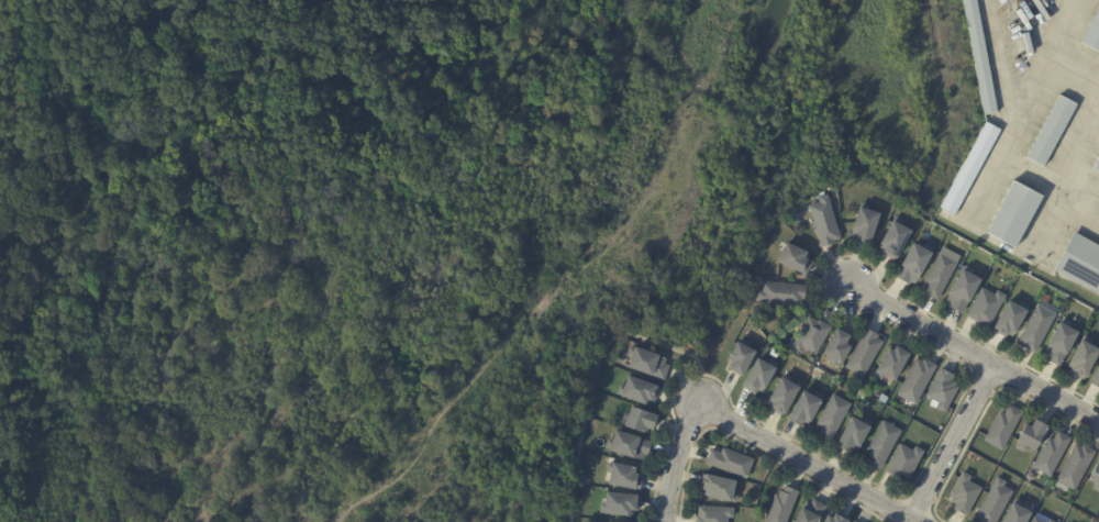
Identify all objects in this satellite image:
road: (1072, 25)
building: (1092, 34)
building: (980, 57)
road: (1075, 58)
building: (1052, 132)
road: (1014, 136)
building: (1097, 167)
building: (970, 169)
road: (1064, 178)
building: (1014, 215)
building: (824, 222)
building: (865, 225)
building: (895, 240)
building: (795, 259)
building: (914, 264)
building: (1080, 264)
building: (940, 276)
building: (963, 291)
building: (780, 295)
building: (1055, 295)
building: (986, 308)
building: (1010, 320)
building: (1036, 329)
building: (811, 336)
building: (1061, 344)
building: (837, 349)
road: (972, 352)
building: (864, 355)
building: (740, 358)
building: (1084, 360)
building: (647, 364)
building: (891, 365)
road: (595, 375)
building: (759, 377)
building: (1096, 379)
building: (915, 382)
building: (943, 390)
building: (637, 391)
building: (782, 398)
building: (806, 409)
building: (832, 419)
building: (639, 421)
building: (1002, 429)
building: (854, 435)
road: (947, 436)
building: (1032, 437)
building: (882, 445)
building: (628, 446)
building: (1051, 455)
road: (671, 459)
road: (811, 462)
building: (903, 463)
building: (731, 464)
building: (1076, 468)
building: (623, 478)
building: (1030, 479)
building: (1096, 479)
building: (719, 490)
building: (964, 496)
building: (995, 503)
building: (620, 506)
building: (781, 507)
building: (811, 512)
building: (714, 514)
building: (1018, 515)
building: (834, 520)
building: (1036, 520)
building: (851, 521)
building: (1050, 521)

